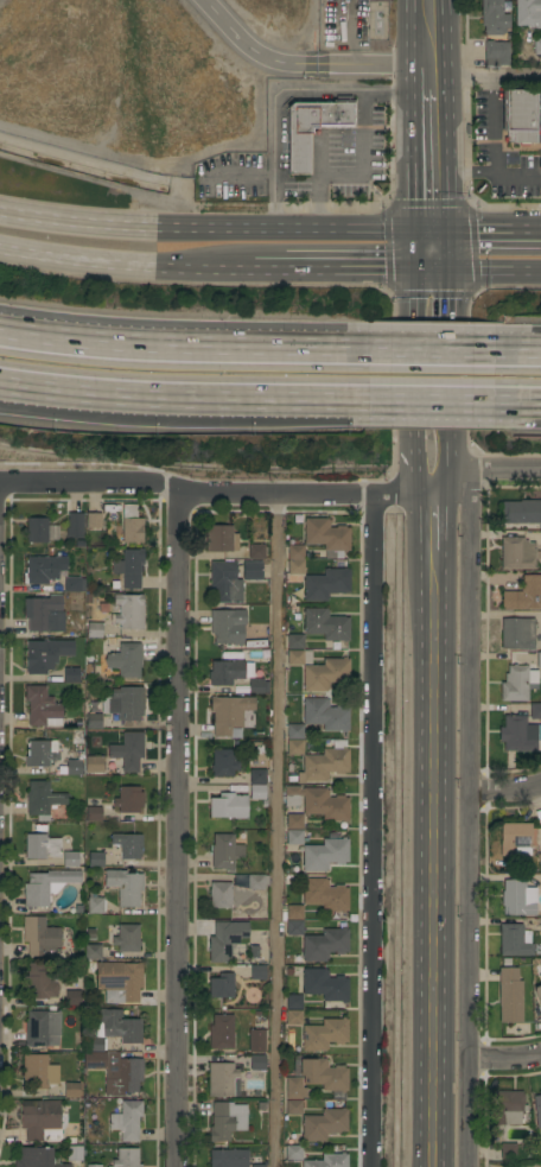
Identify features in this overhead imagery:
building: (528, 13)
building: (494, 18)
parking lot: (344, 25)
road: (354, 32)
road: (427, 38)
building: (537, 46)
road: (254, 50)
building: (495, 53)
road: (374, 65)
airport: (147, 78)
road: (484, 78)
road: (284, 93)
building: (521, 118)
building: (313, 128)
road: (490, 150)
road: (361, 152)
road: (428, 156)
road: (459, 172)
road: (318, 184)
road: (214, 233)
traffic signals: (429, 234)
road: (485, 234)
road: (429, 252)
road: (126, 266)
road: (269, 271)
road: (357, 271)
traffic signals: (429, 271)
road: (485, 272)
road: (416, 291)
road: (444, 291)
road: (182, 349)
road: (429, 351)
road: (517, 353)
road: (414, 373)
road: (448, 373)
road: (183, 394)
road: (431, 398)
road: (518, 399)
road: (414, 461)
road: (447, 461)
road: (484, 470)
road: (215, 494)
building: (521, 513)
building: (93, 520)
building: (131, 525)
building: (74, 526)
building: (37, 531)
building: (326, 537)
building: (221, 539)
building: (256, 551)
building: (517, 554)
building: (295, 563)
building: (129, 567)
building: (252, 570)
building: (51, 572)
building: (225, 582)
building: (326, 584)
building: (523, 595)
building: (128, 611)
building: (44, 614)
building: (325, 624)
building: (227, 626)
building: (94, 629)
building: (517, 633)
building: (294, 642)
building: (45, 654)
building: (298, 657)
building: (125, 660)
building: (539, 660)
building: (228, 672)
building: (325, 674)
building: (70, 676)
building: (517, 684)
building: (256, 686)
building: (125, 703)
building: (42, 708)
building: (535, 711)
building: (229, 715)
building: (325, 715)
building: (94, 721)
building: (294, 731)
building: (520, 734)
building: (294, 747)
building: (127, 751)
building: (40, 753)
building: (223, 762)
building: (94, 763)
building: (324, 763)
building: (74, 767)
building: (257, 776)
road: (504, 791)
building: (257, 792)
building: (42, 799)
building: (128, 800)
building: (318, 803)
building: (228, 806)
building: (94, 810)
road: (469, 818)
building: (294, 822)
road: (431, 825)
road: (174, 830)
road: (274, 831)
road: (369, 832)
building: (294, 837)
building: (514, 837)
building: (128, 845)
building: (42, 846)
building: (224, 851)
building: (324, 855)
building: (539, 858)
building: (72, 860)
building: (95, 860)
building: (256, 881)
building: (46, 886)
building: (125, 887)
building: (324, 894)
building: (219, 895)
building: (517, 898)
building: (94, 902)
building: (294, 912)
building: (540, 925)
building: (294, 927)
building: (40, 937)
building: (127, 938)
building: (225, 939)
building: (514, 939)
building: (324, 944)
building: (91, 951)
building: (254, 952)
building: (257, 972)
building: (119, 981)
building: (39, 982)
building: (324, 984)
building: (221, 985)
building: (537, 994)
building: (509, 995)
building: (72, 997)
building: (293, 1002)
building: (293, 1017)
building: (42, 1028)
building: (114, 1028)
building: (221, 1032)
building: (324, 1034)
building: (256, 1040)
road: (504, 1057)
building: (257, 1063)
building: (38, 1071)
building: (115, 1071)
building: (323, 1074)
building: (221, 1078)
building: (294, 1089)
building: (71, 1090)
building: (293, 1108)
building: (507, 1108)
building: (537, 1110)
building: (39, 1120)
building: (225, 1120)
building: (127, 1121)
building: (324, 1124)
building: (508, 1152)
building: (74, 1153)
building: (293, 1153)
building: (37, 1158)
building: (126, 1158)
building: (228, 1158)
building: (327, 1161)
building: (93, 1166)
building: (257, 1166)

